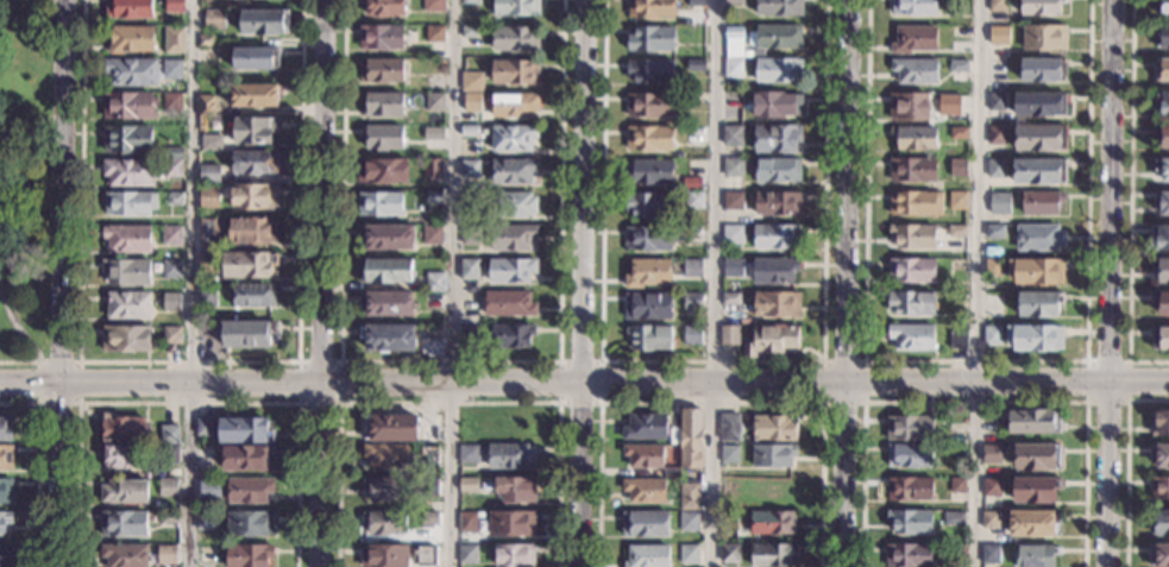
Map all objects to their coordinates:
building: (469, 1)
building: (734, 2)
building: (697, 4)
building: (175, 6)
building: (434, 6)
building: (998, 6)
building: (1163, 6)
building: (384, 7)
building: (516, 7)
building: (779, 7)
building: (913, 7)
building: (1042, 7)
building: (128, 8)
building: (651, 8)
building: (214, 20)
building: (264, 23)
building: (470, 32)
building: (959, 32)
building: (434, 34)
building: (999, 36)
building: (775, 37)
building: (1163, 37)
building: (382, 38)
building: (1044, 38)
building: (131, 39)
building: (515, 39)
building: (652, 39)
building: (915, 39)
building: (175, 40)
building: (206, 40)
building: (734, 43)
building: (748, 56)
building: (254, 58)
building: (696, 65)
building: (959, 67)
building: (733, 68)
building: (172, 70)
building: (381, 70)
building: (778, 70)
building: (1043, 70)
building: (1162, 70)
building: (131, 71)
building: (649, 71)
building: (915, 71)
building: (515, 73)
building: (434, 82)
building: (471, 82)
building: (253, 95)
building: (171, 102)
building: (434, 102)
building: (471, 102)
building: (995, 102)
building: (1162, 102)
building: (383, 105)
building: (514, 105)
building: (649, 105)
building: (775, 105)
building: (1039, 105)
building: (130, 106)
building: (206, 106)
building: (949, 106)
building: (909, 107)
building: (254, 130)
building: (469, 131)
building: (959, 133)
building: (434, 134)
building: (733, 136)
building: (997, 136)
building: (382, 137)
building: (1162, 137)
building: (513, 138)
building: (649, 138)
building: (777, 138)
building: (915, 138)
building: (1041, 138)
building: (127, 139)
building: (210, 143)
building: (174, 153)
building: (254, 163)
building: (172, 168)
building: (733, 168)
building: (959, 168)
building: (433, 169)
building: (470, 169)
building: (995, 169)
building: (1162, 169)
building: (382, 170)
building: (778, 170)
building: (912, 170)
building: (513, 171)
building: (1039, 171)
building: (128, 172)
building: (649, 172)
building: (209, 174)
park: (27, 182)
building: (691, 183)
road: (1110, 190)
road: (847, 191)
building: (208, 197)
building: (254, 197)
building: (433, 197)
building: (174, 199)
building: (693, 201)
building: (734, 201)
building: (957, 201)
road: (1130, 201)
building: (130, 203)
building: (381, 203)
building: (778, 203)
building: (916, 203)
building: (999, 203)
building: (1042, 203)
building: (1162, 203)
building: (516, 204)
building: (648, 204)
building: (208, 232)
building: (253, 232)
building: (957, 232)
building: (995, 232)
building: (733, 234)
building: (171, 235)
building: (432, 235)
building: (470, 235)
building: (695, 235)
building: (913, 235)
building: (388, 237)
building: (777, 237)
building: (127, 238)
building: (513, 238)
building: (653, 238)
building: (1039, 238)
building: (1159, 238)
building: (994, 251)
building: (207, 263)
building: (247, 264)
building: (957, 265)
building: (733, 267)
building: (993, 267)
building: (171, 269)
building: (469, 269)
building: (692, 269)
building: (385, 270)
building: (912, 270)
building: (511, 271)
building: (774, 271)
building: (1037, 271)
building: (1163, 271)
building: (126, 272)
building: (648, 273)
building: (435, 282)
road: (65, 283)
road: (194, 283)
road: (321, 283)
road: (454, 283)
road: (582, 283)
road: (712, 283)
road: (976, 283)
building: (253, 295)
building: (207, 298)
building: (730, 300)
building: (171, 302)
building: (692, 302)
building: (1162, 302)
building: (388, 303)
building: (911, 303)
building: (509, 304)
building: (777, 304)
building: (1039, 304)
building: (128, 305)
building: (648, 307)
building: (235, 315)
road: (19, 326)
building: (467, 330)
building: (247, 334)
building: (172, 335)
building: (692, 335)
building: (729, 335)
building: (992, 335)
building: (511, 336)
building: (912, 336)
building: (388, 338)
building: (649, 338)
building: (1035, 338)
building: (126, 339)
building: (1159, 339)
building: (771, 340)
building: (959, 340)
building: (433, 347)
road: (19, 360)
road: (448, 360)
road: (559, 360)
road: (710, 360)
road: (822, 360)
road: (975, 360)
road: (188, 361)
road: (584, 382)
road: (1086, 398)
road: (448, 402)
road: (709, 402)
road: (974, 402)
road: (77, 403)
road: (187, 403)
road: (339, 403)
building: (1033, 421)
building: (1159, 423)
building: (646, 427)
building: (775, 427)
building: (124, 428)
building: (206, 428)
building: (730, 428)
building: (910, 428)
building: (401, 429)
building: (5, 431)
building: (245, 431)
building: (955, 434)
building: (169, 435)
building: (673, 435)
building: (691, 437)
building: (429, 454)
building: (469, 454)
building: (729, 454)
building: (992, 454)
building: (170, 455)
building: (643, 455)
building: (773, 455)
building: (910, 455)
building: (1162, 455)
building: (119, 456)
building: (386, 456)
building: (510, 456)
building: (6, 458)
building: (246, 458)
building: (1037, 458)
road: (1126, 462)
road: (37, 466)
building: (672, 472)
road: (843, 474)
road: (1107, 474)
building: (206, 484)
building: (467, 485)
building: (957, 485)
building: (429, 487)
building: (727, 487)
building: (992, 487)
building: (169, 489)
building: (910, 489)
building: (1159, 489)
building: (385, 490)
building: (516, 490)
building: (645, 490)
building: (773, 490)
building: (1036, 490)
building: (6, 491)
building: (125, 491)
building: (249, 491)
building: (689, 496)
building: (168, 518)
building: (727, 518)
building: (954, 518)
building: (428, 519)
building: (205, 521)
building: (910, 521)
building: (989, 521)
building: (5, 522)
building: (467, 522)
building: (689, 522)
building: (773, 522)
building: (385, 523)
building: (511, 523)
building: (1032, 523)
building: (1159, 523)
building: (124, 524)
building: (250, 524)
building: (645, 524)
building: (725, 540)
building: (170, 550)
building: (953, 552)
building: (207, 554)
building: (467, 554)
building: (689, 554)
building: (729, 554)
building: (125, 555)
building: (249, 555)
building: (426, 555)
building: (515, 555)
building: (773, 555)
building: (909, 555)
building: (989, 555)
building: (1036, 555)
building: (1162, 555)
building: (6, 556)
building: (384, 556)
building: (647, 556)

